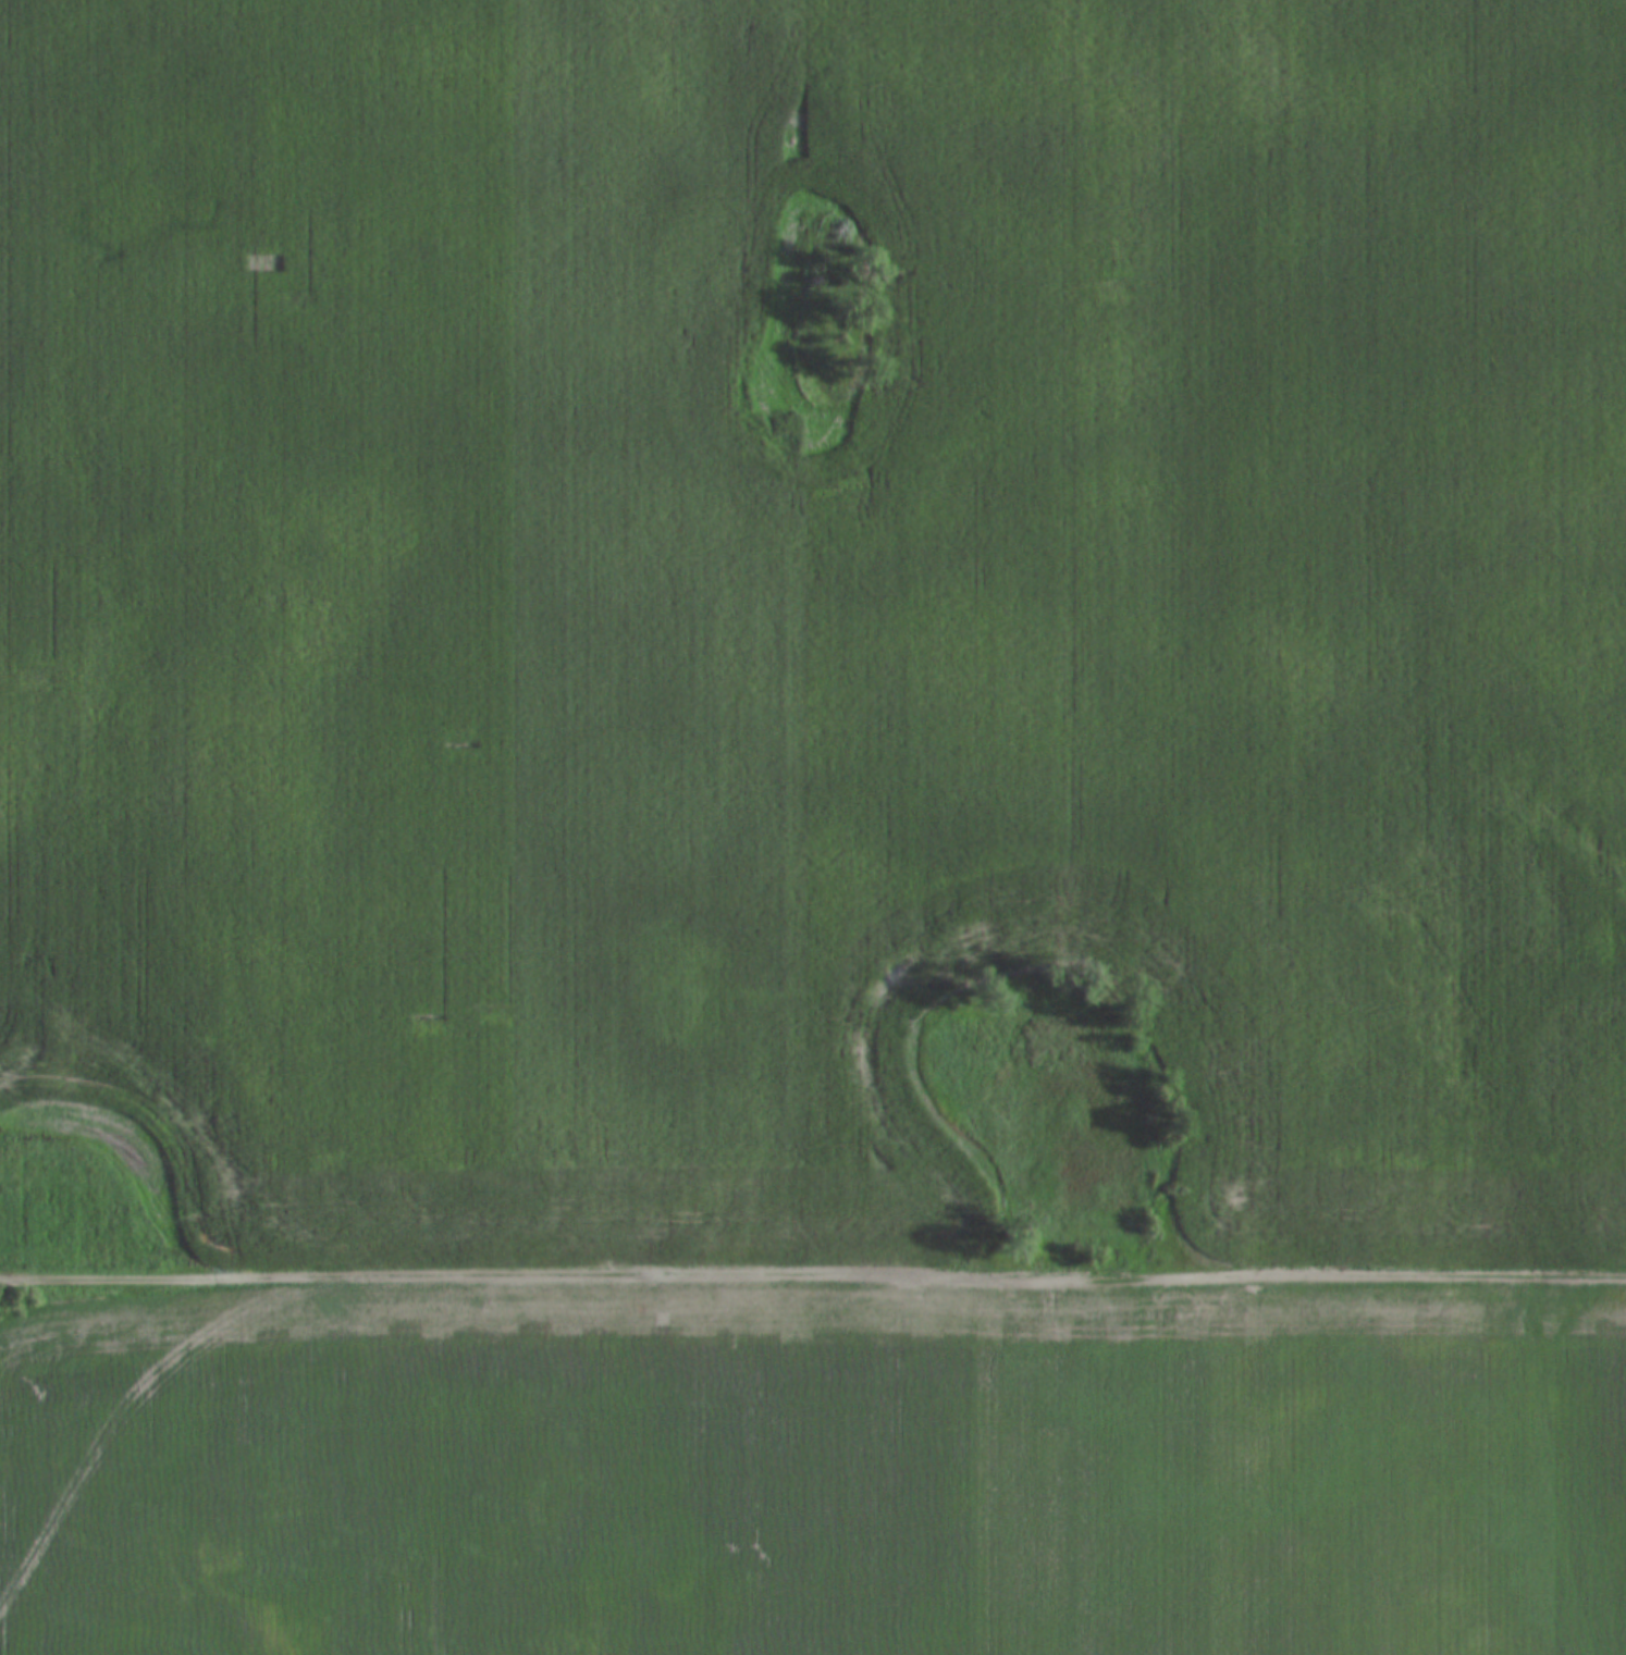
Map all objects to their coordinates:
road: (813, 1273)

